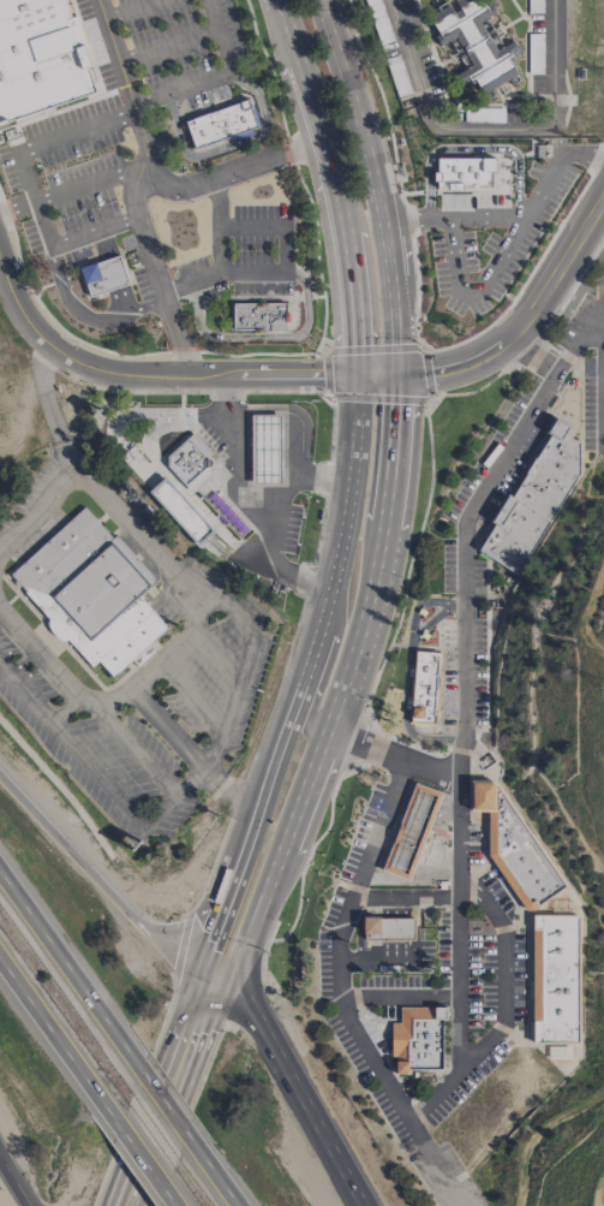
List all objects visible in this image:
road: (131, 8)
road: (222, 34)
building: (474, 43)
road: (169, 44)
building: (40, 57)
road: (184, 88)
building: (225, 120)
road: (495, 123)
road: (78, 135)
road: (231, 144)
road: (231, 172)
building: (464, 173)
road: (89, 184)
road: (136, 189)
road: (35, 202)
road: (17, 208)
road: (495, 213)
road: (220, 222)
road: (253, 224)
road: (94, 233)
road: (286, 246)
road: (1, 265)
road: (221, 271)
building: (102, 275)
road: (492, 275)
road: (86, 317)
building: (261, 319)
road: (263, 338)
road: (512, 340)
road: (324, 349)
road: (357, 352)
road: (537, 352)
road: (399, 364)
road: (148, 378)
traffic signals: (358, 378)
traffic signals: (399, 380)
building: (265, 448)
road: (298, 458)
road: (228, 459)
building: (191, 461)
road: (323, 477)
road: (187, 501)
building: (533, 503)
road: (42, 512)
road: (464, 525)
road: (132, 527)
building: (92, 593)
road: (585, 610)
road: (430, 622)
road: (216, 655)
road: (241, 669)
road: (408, 671)
road: (58, 676)
building: (425, 688)
road: (191, 696)
road: (64, 708)
road: (311, 719)
road: (370, 741)
road: (73, 745)
road: (138, 751)
road: (189, 753)
road: (433, 765)
road: (191, 784)
road: (163, 810)
building: (413, 832)
road: (243, 839)
building: (515, 848)
road: (279, 852)
road: (370, 856)
road: (100, 875)
road: (503, 927)
building: (389, 928)
road: (66, 957)
road: (460, 960)
road: (357, 961)
traffic signals: (216, 972)
building: (556, 979)
road: (400, 996)
road: (58, 1032)
building: (419, 1039)
road: (375, 1065)
road: (298, 1082)
road: (171, 1088)
road: (172, 1112)
road: (149, 1159)
road: (432, 1165)
road: (14, 1178)
road: (222, 1188)

